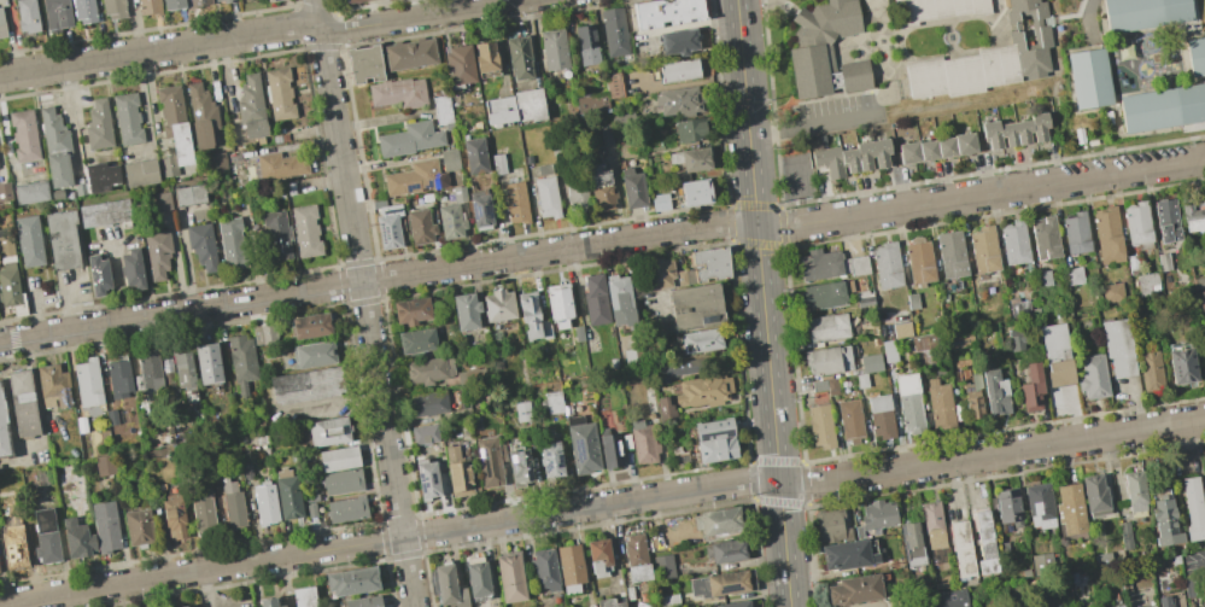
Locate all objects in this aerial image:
building: (216, 0)
building: (269, 0)
building: (352, 0)
building: (226, 1)
building: (195, 2)
building: (171, 4)
building: (148, 6)
building: (113, 7)
building: (1026, 8)
building: (83, 10)
building: (940, 10)
building: (55, 13)
building: (669, 13)
building: (1145, 13)
building: (27, 16)
road: (1088, 19)
building: (1, 27)
building: (614, 31)
road: (259, 34)
building: (678, 41)
building: (585, 45)
building: (821, 45)
building: (554, 48)
building: (409, 53)
building: (484, 57)
building: (519, 57)
building: (1197, 57)
building: (363, 64)
building: (458, 65)
building: (981, 68)
building: (678, 70)
building: (855, 76)
building: (1090, 80)
building: (613, 86)
building: (279, 93)
building: (397, 93)
building: (678, 100)
building: (591, 103)
building: (527, 104)
building: (250, 107)
building: (1163, 107)
building: (498, 110)
building: (441, 111)
parking lot: (844, 113)
building: (200, 115)
building: (127, 118)
building: (621, 119)
building: (98, 124)
road: (809, 124)
building: (172, 129)
building: (689, 129)
building: (1014, 130)
building: (23, 135)
building: (408, 139)
building: (963, 144)
building: (54, 147)
building: (944, 147)
building: (926, 150)
building: (908, 152)
building: (474, 156)
building: (852, 157)
building: (216, 160)
building: (449, 162)
building: (688, 162)
building: (497, 163)
building: (279, 165)
building: (139, 171)
building: (99, 176)
building: (411, 177)
rooftop solar panel: (429, 183)
rooftop solar panel: (411, 186)
building: (601, 188)
building: (632, 188)
building: (5, 191)
building: (30, 192)
building: (545, 192)
building: (694, 192)
building: (575, 193)
building: (188, 194)
building: (162, 202)
building: (515, 202)
building: (660, 202)
rooftop solar panel: (475, 208)
rooftop solar panel: (485, 208)
rooftop solar panel: (391, 210)
building: (479, 211)
building: (104, 212)
building: (451, 215)
building: (1192, 216)
building: (1166, 220)
building: (1137, 224)
building: (387, 226)
building: (419, 226)
building: (305, 230)
rooftop solar panel: (382, 230)
building: (1075, 233)
building: (1107, 234)
building: (276, 238)
building: (1045, 238)
building: (62, 239)
building: (28, 240)
building: (230, 243)
road: (602, 243)
building: (1013, 243)
building: (201, 245)
building: (983, 250)
building: (157, 252)
building: (950, 253)
building: (919, 259)
building: (1163, 261)
building: (709, 263)
building: (830, 264)
building: (885, 264)
building: (1131, 264)
building: (1203, 265)
building: (131, 268)
building: (656, 272)
building: (96, 274)
building: (8, 275)
building: (1074, 275)
building: (1042, 278)
road: (117, 282)
building: (1146, 282)
building: (1111, 292)
building: (825, 293)
building: (862, 298)
building: (1198, 298)
building: (595, 299)
building: (619, 300)
building: (911, 300)
road: (365, 303)
building: (558, 303)
road: (764, 303)
building: (498, 304)
road: (66, 308)
building: (695, 308)
building: (411, 310)
building: (464, 310)
building: (532, 316)
building: (309, 326)
building: (824, 327)
building: (900, 329)
building: (263, 333)
building: (1016, 338)
building: (416, 340)
building: (702, 340)
building: (923, 342)
building: (1117, 348)
building: (888, 351)
building: (311, 354)
building: (1054, 355)
building: (627, 356)
building: (827, 358)
building: (240, 361)
building: (870, 362)
building: (206, 363)
building: (1180, 364)
building: (166, 368)
building: (148, 369)
building: (428, 369)
building: (674, 369)
building: (1150, 370)
building: (183, 372)
building: (118, 377)
building: (467, 377)
building: (1092, 377)
building: (860, 380)
building: (87, 381)
building: (305, 385)
building: (53, 386)
building: (824, 386)
building: (994, 389)
building: (1031, 389)
building: (703, 391)
building: (971, 399)
building: (22, 402)
building: (554, 402)
building: (428, 403)
building: (907, 404)
building: (938, 405)
building: (665, 407)
building: (522, 412)
building: (111, 416)
building: (879, 418)
building: (848, 421)
building: (80, 424)
building: (713, 427)
building: (819, 427)
building: (327, 431)
building: (4, 433)
building: (423, 433)
building: (644, 443)
building: (583, 445)
rooftop solar panel: (579, 449)
building: (715, 449)
building: (612, 450)
rooftop solar panel: (544, 451)
rooftop solar panel: (517, 456)
building: (338, 459)
rooftop solar panel: (511, 459)
rooftop solar panel: (558, 459)
building: (551, 460)
building: (490, 461)
building: (104, 465)
rooftop solar panel: (545, 465)
rooftop solar panel: (513, 467)
building: (519, 467)
building: (245, 471)
building: (458, 473)
rooftop solar panel: (419, 475)
rooftop solar panel: (431, 477)
building: (428, 480)
building: (340, 481)
rooftop solar panel: (422, 484)
building: (1134, 490)
building: (1094, 494)
building: (286, 495)
building: (310, 497)
building: (230, 503)
building: (264, 503)
road: (602, 504)
building: (1040, 504)
building: (1007, 506)
building: (1193, 507)
building: (1070, 508)
building: (200, 509)
building: (345, 509)
building: (310, 510)
building: (172, 515)
building: (877, 518)
building: (1164, 519)
building: (718, 521)
building: (104, 525)
building: (932, 525)
building: (138, 526)
building: (833, 526)
building: (1123, 535)
building: (45, 536)
building: (76, 538)
building: (913, 544)
building: (985, 544)
rooftop solar panel: (7, 548)
building: (12, 548)
building: (961, 549)
building: (725, 551)
building: (599, 555)
building: (844, 555)
building: (637, 558)
rooftop solar panel: (17, 564)
building: (1041, 564)
building: (663, 566)
road: (1199, 566)
building: (571, 567)
building: (545, 568)
building: (476, 576)
building: (510, 577)
building: (352, 579)
building: (723, 584)
building: (448, 585)
building: (854, 590)
building: (304, 596)
building: (952, 599)
building: (1164, 601)
building: (268, 602)
building: (364, 602)
building: (609, 603)
building: (736, 603)
building: (1200, 605)
building: (189, 606)
building: (281, 606)
building: (557, 606)
building: (1117, 606)
building: (1153, 606)
building: (1184, 606)

